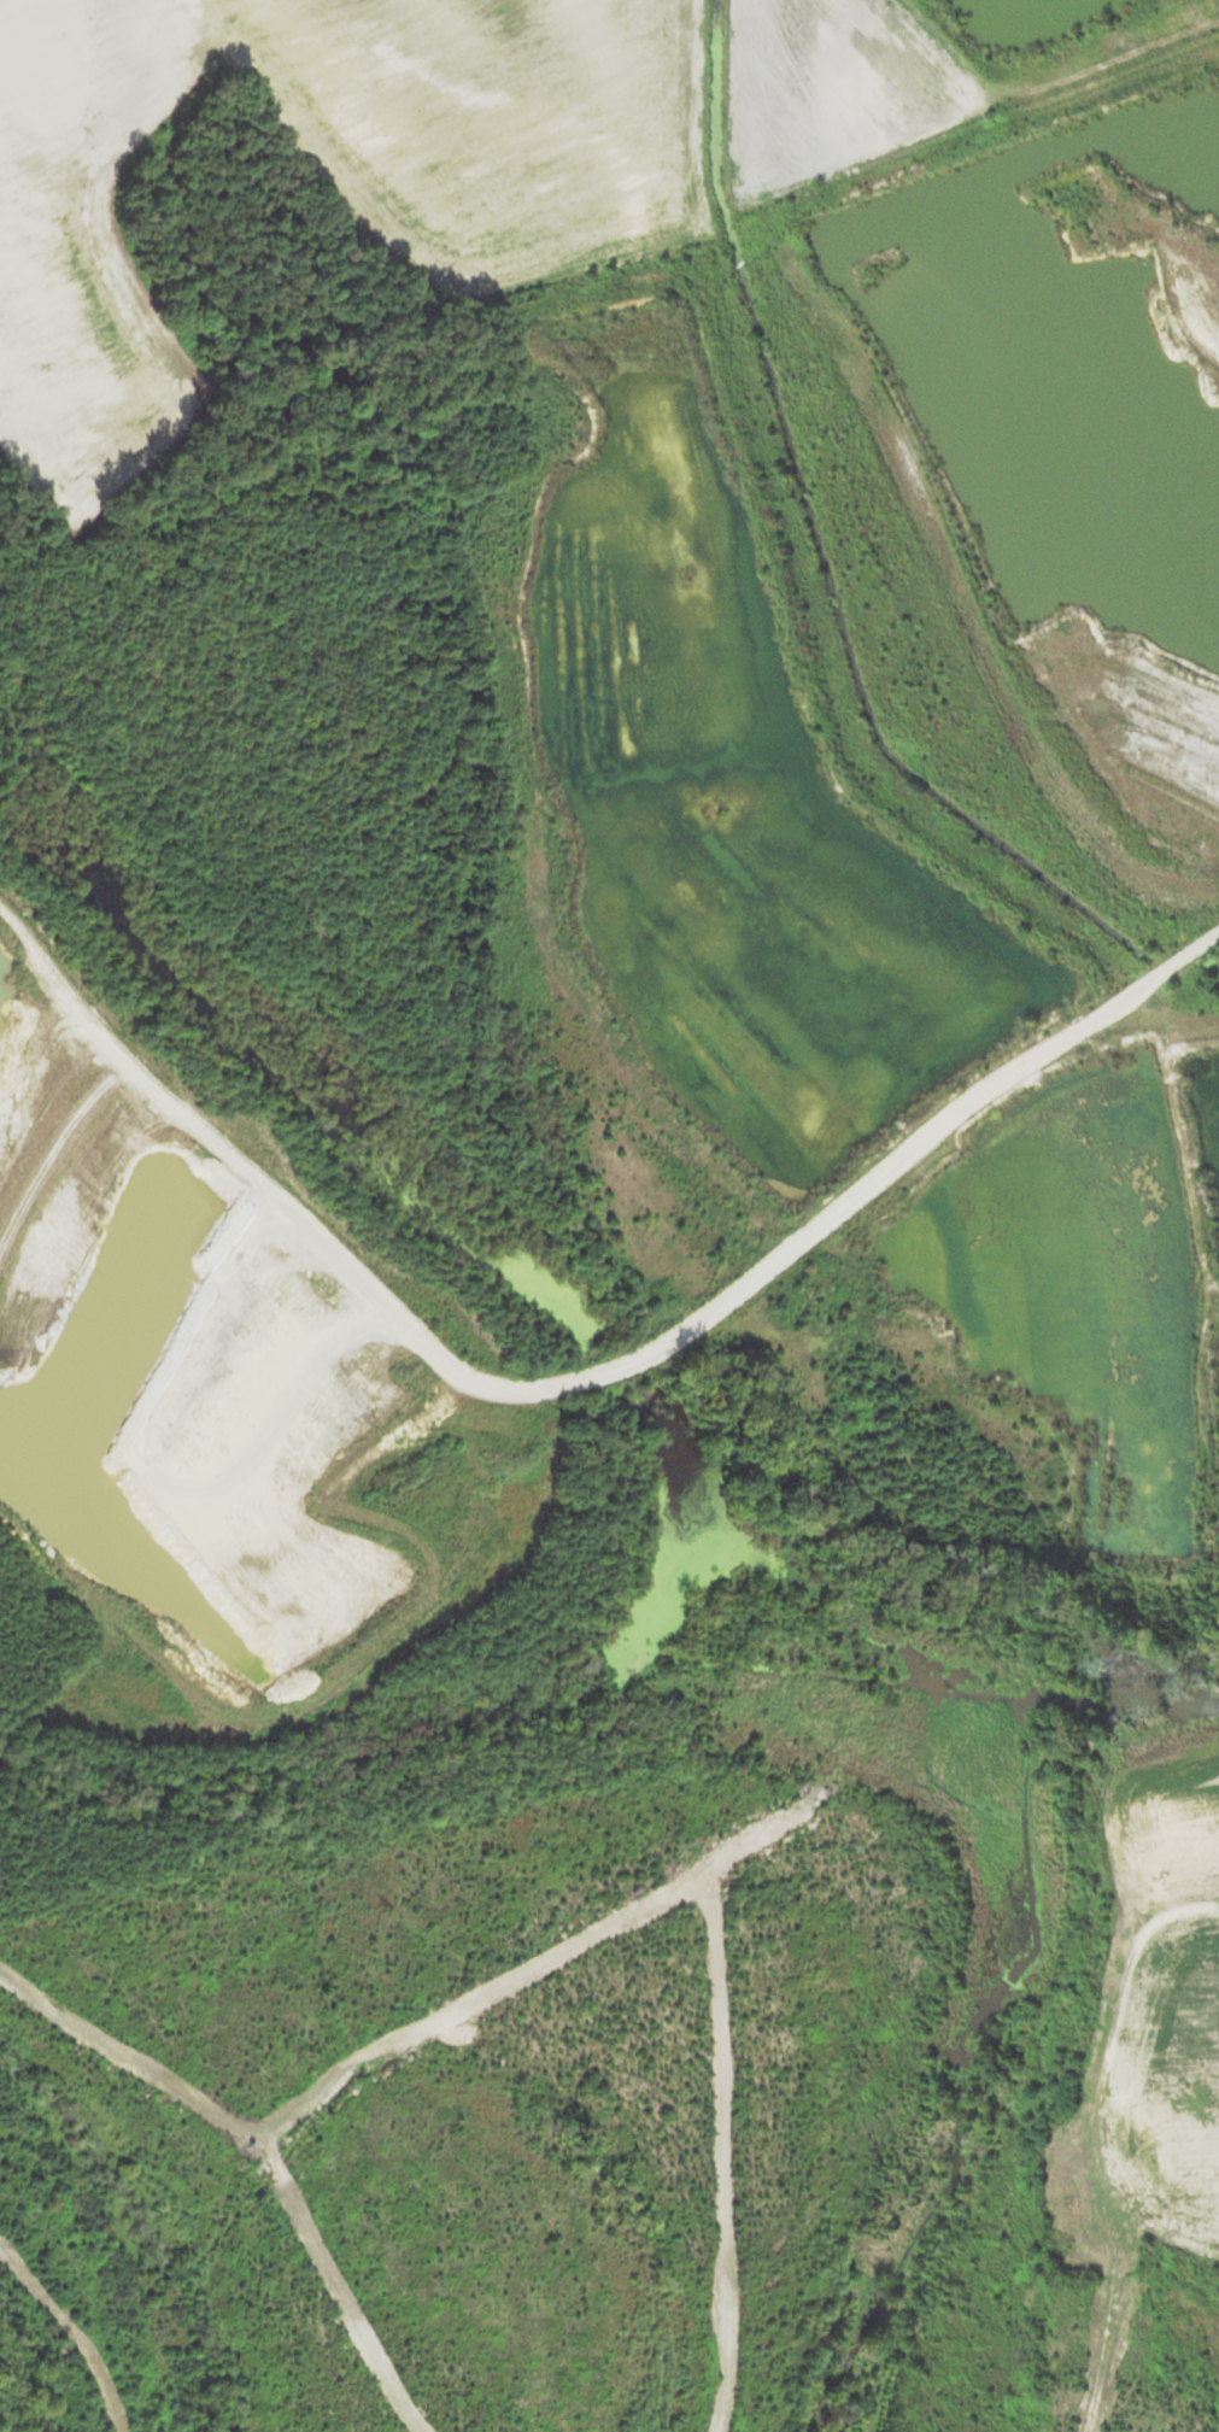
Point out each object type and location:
road: (1190, 1897)

